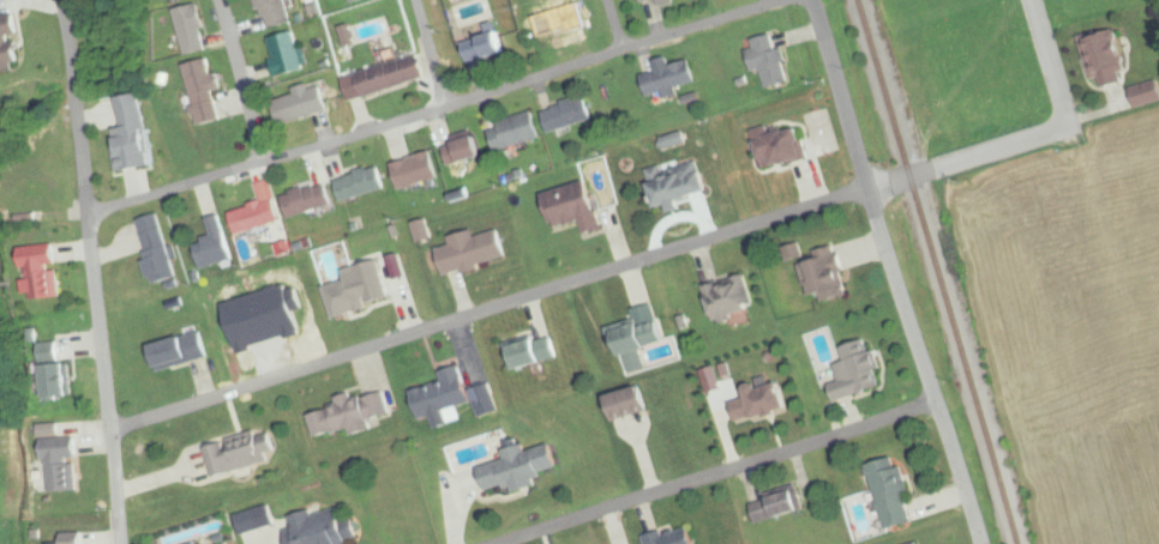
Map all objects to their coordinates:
building: (354, 0)
building: (645, 0)
building: (665, 1)
building: (275, 12)
road: (613, 25)
building: (553, 26)
building: (192, 29)
building: (486, 44)
building: (10, 47)
building: (286, 54)
road: (428, 54)
building: (767, 58)
building: (1105, 58)
building: (392, 75)
building: (669, 78)
road: (529, 80)
road: (244, 81)
building: (205, 90)
building: (1147, 93)
building: (301, 104)
building: (566, 114)
building: (515, 131)
building: (131, 132)
road: (1028, 138)
building: (463, 149)
building: (781, 149)
building: (415, 171)
building: (360, 183)
building: (680, 185)
road: (180, 188)
building: (307, 199)
building: (574, 208)
building: (259, 213)
building: (216, 246)
building: (157, 248)
building: (473, 252)
railway: (926, 271)
building: (41, 272)
road: (890, 272)
building: (824, 278)
building: (356, 291)
building: (731, 300)
road: (488, 312)
building: (637, 336)
building: (181, 351)
building: (532, 352)
building: (58, 370)
building: (853, 375)
road: (107, 381)
building: (444, 394)
building: (765, 401)
building: (352, 415)
building: (242, 452)
building: (62, 464)
building: (523, 467)
road: (721, 475)
building: (885, 495)
building: (787, 504)
building: (319, 527)
building: (672, 537)
building: (74, 538)
building: (919, 543)

